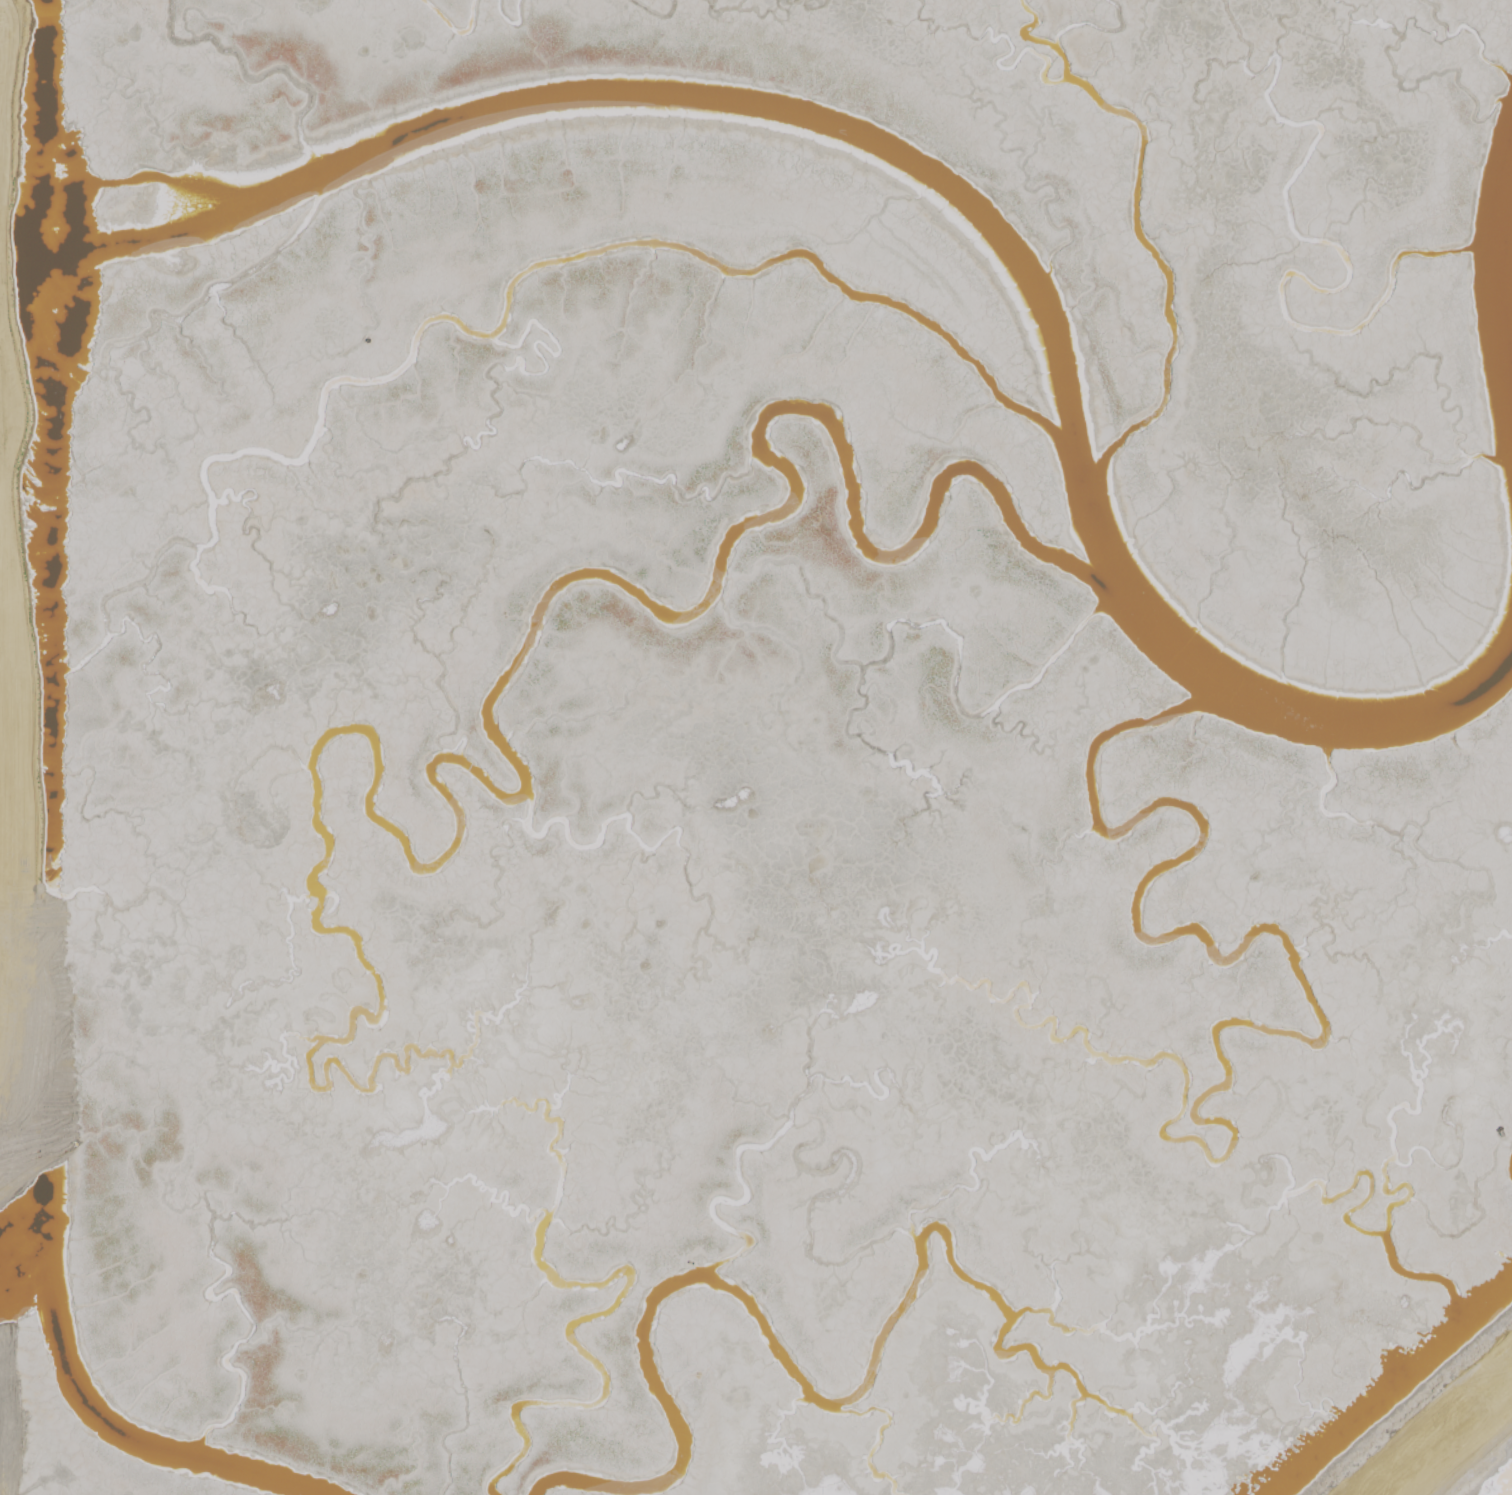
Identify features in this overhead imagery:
road: (1426, 1417)
road: (1467, 1455)

